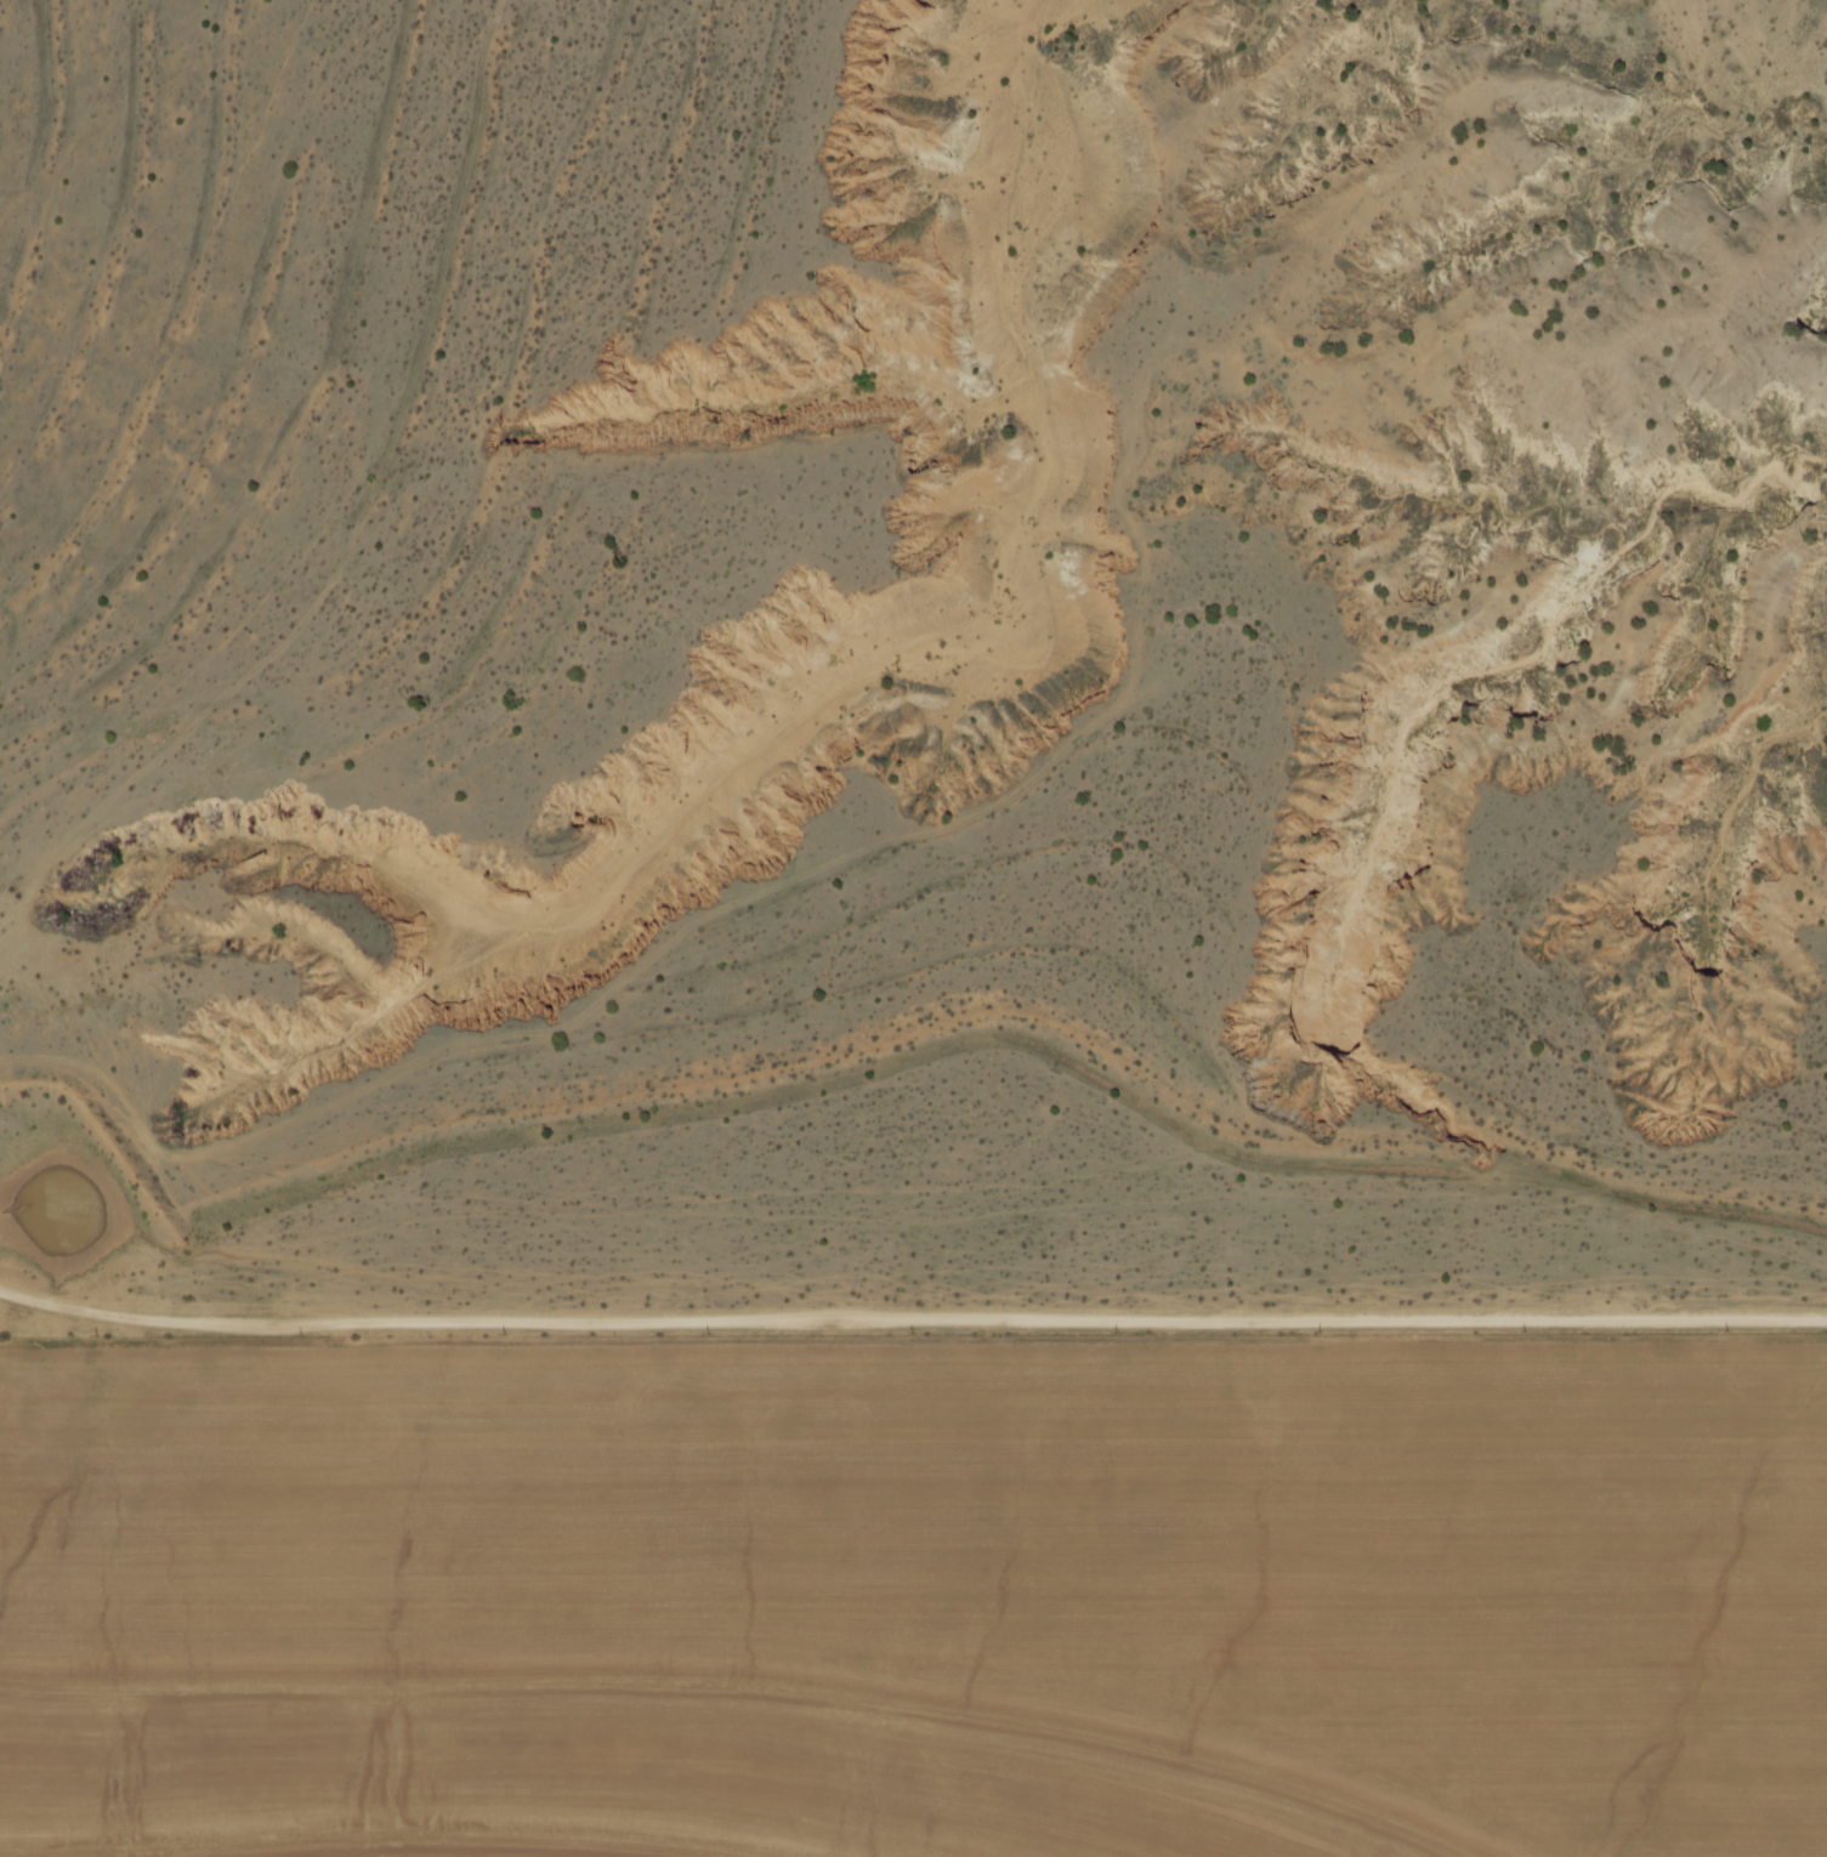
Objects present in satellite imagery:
dam: (103, 1131)
road: (912, 1327)
crop: (915, 1594)

